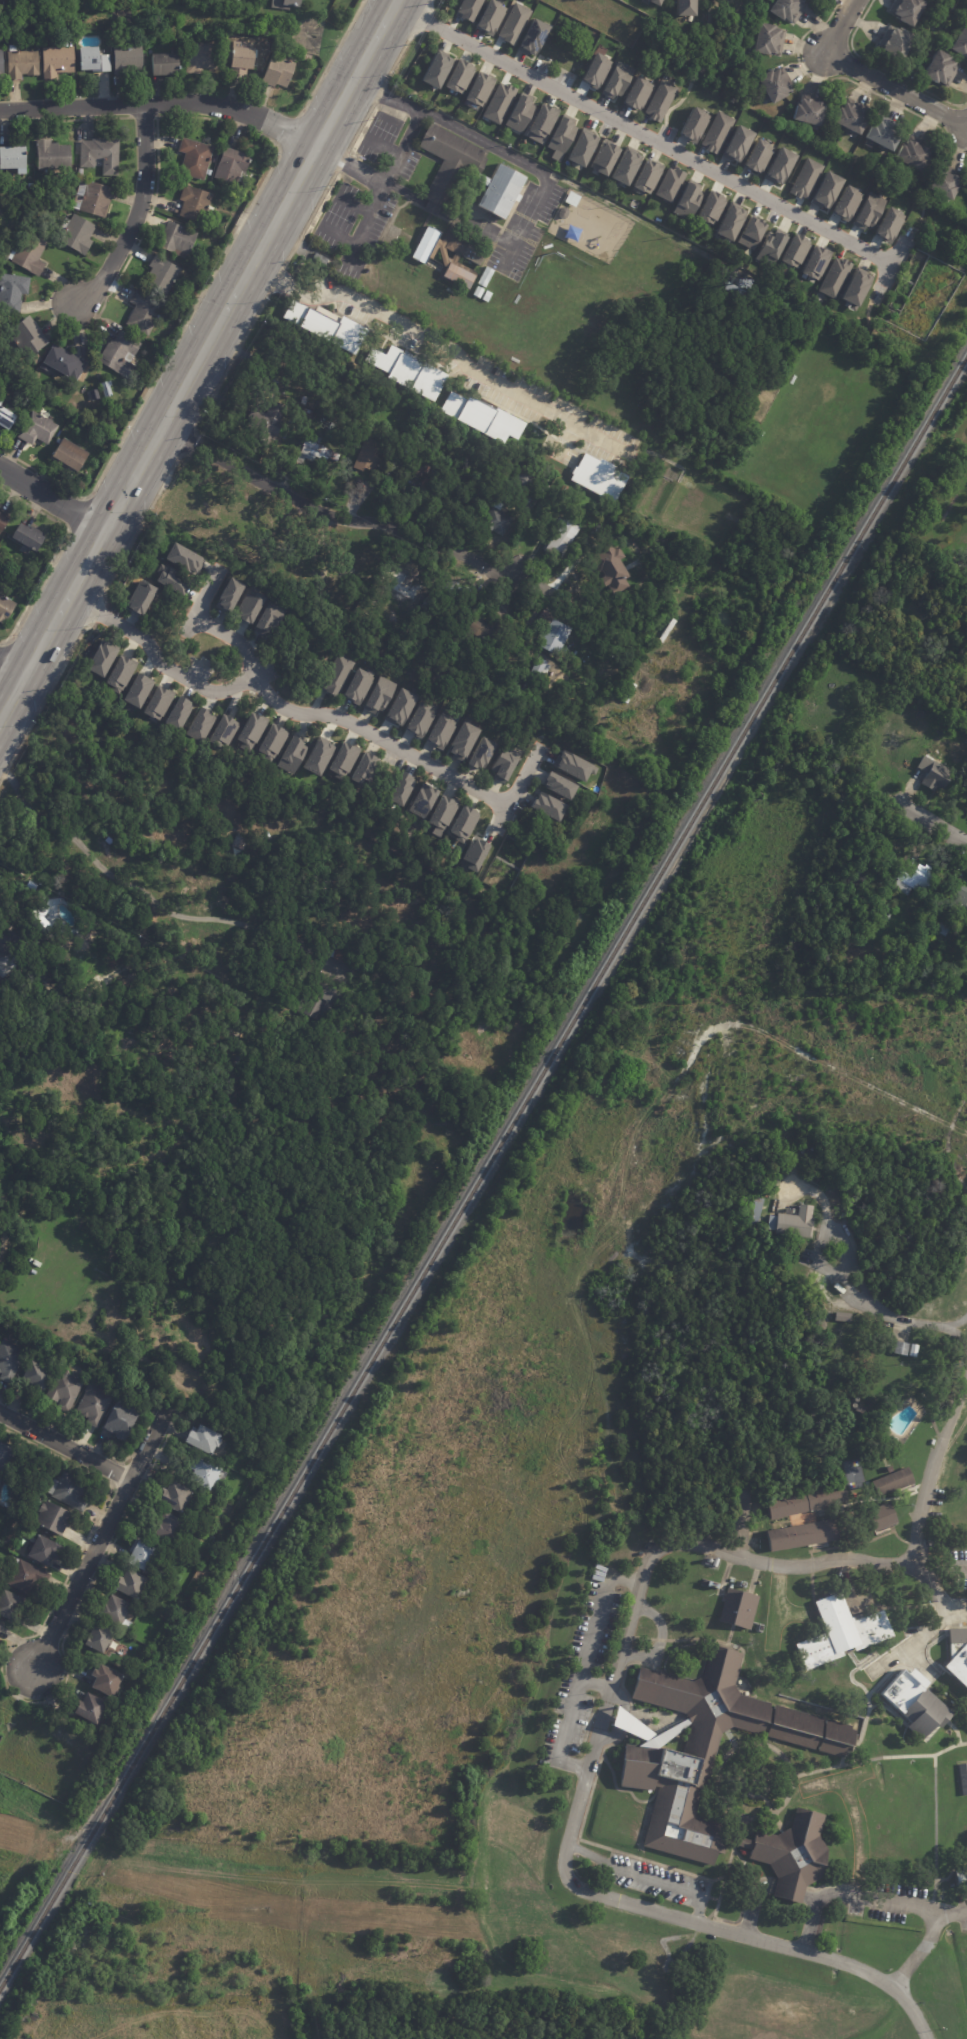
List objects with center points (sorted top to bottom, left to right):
building: (63, 0)
building: (236, 0)
building: (239, 0)
building: (654, 1)
building: (659, 1)
building: (286, 4)
road: (430, 4)
building: (523, 7)
building: (687, 8)
building: (468, 9)
building: (788, 9)
building: (906, 10)
building: (553, 12)
building: (489, 17)
building: (567, 18)
road: (424, 20)
building: (479, 21)
building: (512, 23)
road: (838, 26)
building: (583, 29)
building: (532, 37)
building: (769, 39)
building: (959, 40)
building: (895, 43)
building: (546, 56)
building: (203, 57)
building: (244, 57)
road: (331, 57)
road: (397, 57)
building: (128, 58)
building: (93, 60)
building: (57, 61)
building: (610, 61)
building: (23, 64)
building: (2, 65)
building: (165, 65)
building: (528, 65)
building: (568, 66)
building: (938, 68)
road: (883, 69)
building: (435, 70)
building: (594, 70)
building: (278, 71)
building: (549, 74)
building: (458, 77)
road: (850, 80)
building: (615, 81)
building: (777, 84)
building: (478, 89)
road: (895, 89)
building: (636, 93)
road: (377, 95)
building: (659, 101)
building: (498, 102)
road: (161, 104)
building: (518, 114)
building: (810, 114)
road: (144, 117)
building: (852, 118)
road: (66, 119)
building: (540, 123)
building: (693, 125)
road: (358, 127)
road: (288, 132)
building: (715, 132)
road: (641, 133)
building: (885, 134)
building: (560, 137)
road: (484, 142)
building: (736, 144)
building: (580, 148)
building: (100, 154)
building: (915, 155)
building: (53, 156)
building: (757, 156)
building: (603, 157)
building: (13, 158)
building: (195, 158)
road: (340, 162)
building: (451, 165)
building: (233, 166)
building: (778, 166)
building: (624, 167)
building: (646, 176)
building: (804, 179)
road: (383, 182)
building: (668, 184)
building: (943, 185)
building: (499, 191)
building: (825, 191)
building: (93, 198)
building: (574, 200)
building: (686, 201)
road: (251, 203)
building: (845, 203)
road: (316, 204)
building: (196, 205)
building: (709, 208)
building: (868, 211)
road: (365, 213)
building: (564, 213)
road: (135, 217)
building: (729, 223)
building: (887, 224)
building: (77, 233)
building: (750, 233)
building: (178, 239)
building: (426, 245)
building: (463, 246)
building: (771, 246)
building: (794, 250)
building: (29, 254)
road: (890, 261)
building: (814, 262)
building: (163, 273)
building: (366, 275)
building: (459, 276)
building: (486, 277)
building: (833, 277)
building: (735, 285)
building: (855, 287)
building: (478, 292)
building: (13, 293)
building: (487, 297)
building: (145, 312)
building: (311, 320)
building: (28, 337)
road: (439, 347)
building: (121, 355)
road: (196, 356)
building: (282, 361)
building: (66, 363)
building: (404, 370)
building: (107, 388)
building: (304, 400)
building: (322, 406)
building: (308, 413)
building: (481, 417)
building: (6, 418)
building: (266, 421)
building: (289, 422)
building: (38, 430)
building: (316, 451)
building: (369, 453)
building: (68, 456)
building: (511, 462)
building: (415, 463)
building: (437, 470)
building: (93, 473)
building: (597, 477)
building: (524, 480)
building: (565, 486)
building: (458, 491)
building: (441, 494)
road: (51, 498)
building: (565, 503)
road: (77, 513)
road: (349, 520)
building: (498, 520)
building: (3, 521)
building: (29, 538)
building: (561, 539)
building: (639, 542)
road: (56, 555)
building: (183, 558)
building: (609, 567)
building: (339, 572)
building: (171, 580)
building: (408, 585)
building: (637, 588)
building: (454, 589)
building: (228, 594)
building: (139, 597)
building: (428, 602)
building: (247, 606)
building: (5, 610)
building: (546, 616)
building: (268, 617)
road: (186, 622)
road: (208, 627)
building: (487, 631)
building: (554, 637)
road: (0, 644)
building: (100, 658)
road: (11, 666)
building: (119, 674)
building: (537, 674)
building: (336, 675)
building: (356, 685)
building: (137, 690)
building: (378, 695)
building: (571, 697)
building: (536, 701)
building: (157, 703)
building: (398, 707)
building: (177, 713)
road: (306, 714)
building: (419, 718)
building: (199, 724)
building: (250, 730)
building: (222, 731)
building: (439, 731)
building: (461, 741)
building: (270, 742)
building: (477, 752)
building: (291, 754)
building: (316, 757)
building: (342, 759)
building: (503, 763)
building: (572, 766)
building: (363, 769)
building: (931, 775)
building: (554, 785)
building: (399, 789)
building: (421, 800)
building: (544, 806)
building: (438, 811)
building: (462, 823)
road: (934, 823)
building: (472, 854)
building: (912, 880)
building: (326, 884)
building: (958, 904)
road: (1, 906)
building: (888, 907)
building: (883, 916)
building: (40, 919)
building: (5, 945)
building: (348, 957)
building: (369, 969)
building: (925, 970)
building: (323, 1001)
building: (232, 1034)
building: (240, 1062)
road: (388, 1067)
railway: (482, 1169)
building: (756, 1214)
building: (792, 1222)
road: (821, 1229)
building: (845, 1318)
road: (919, 1323)
building: (901, 1349)
building: (916, 1351)
building: (10, 1361)
building: (37, 1376)
road: (966, 1384)
building: (65, 1391)
building: (94, 1406)
building: (120, 1421)
building: (205, 1441)
road: (65, 1446)
road: (91, 1446)
building: (6, 1456)
road: (141, 1459)
road: (930, 1463)
road: (116, 1472)
building: (205, 1476)
building: (891, 1480)
building: (0, 1484)
building: (70, 1492)
building: (175, 1498)
building: (805, 1498)
building: (942, 1500)
building: (882, 1516)
building: (53, 1519)
building: (167, 1529)
building: (800, 1536)
road: (100, 1538)
building: (202, 1552)
building: (45, 1553)
building: (144, 1559)
building: (717, 1563)
road: (944, 1570)
parking lot: (952, 1570)
road: (922, 1573)
building: (27, 1578)
building: (130, 1585)
building: (166, 1594)
building: (734, 1605)
building: (10, 1607)
building: (113, 1611)
building: (0, 1626)
building: (840, 1630)
building: (98, 1640)
road: (658, 1641)
building: (957, 1653)
road: (0, 1661)
road: (582, 1668)
parking lot: (584, 1668)
building: (105, 1683)
road: (595, 1683)
road: (7, 1690)
road: (619, 1697)
building: (913, 1704)
building: (90, 1709)
road: (622, 1719)
road: (608, 1737)
road: (591, 1752)
building: (665, 1771)
building: (962, 1779)
road: (39, 1835)
road: (644, 1877)
building: (960, 1877)
road: (787, 1893)
road: (869, 1899)
parking lot: (883, 1902)
road: (753, 1906)
parking lot: (961, 1912)
road: (810, 1927)
road: (926, 1941)
road: (909, 2011)

